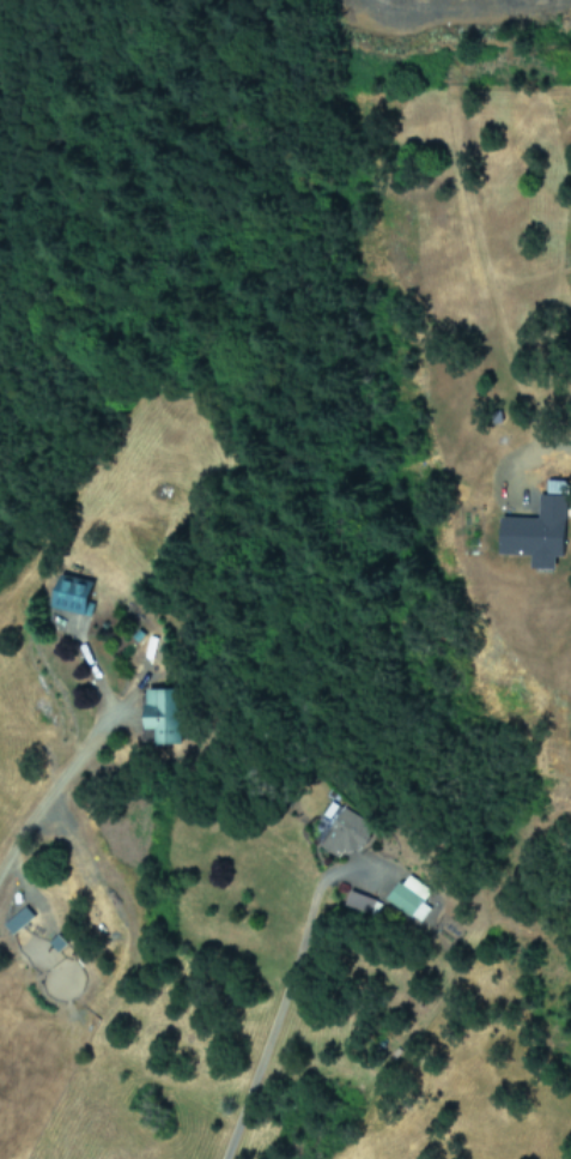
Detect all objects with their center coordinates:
road: (558, 449)
building: (68, 593)
building: (160, 714)
building: (342, 833)
building: (408, 897)
building: (357, 901)
building: (16, 919)

